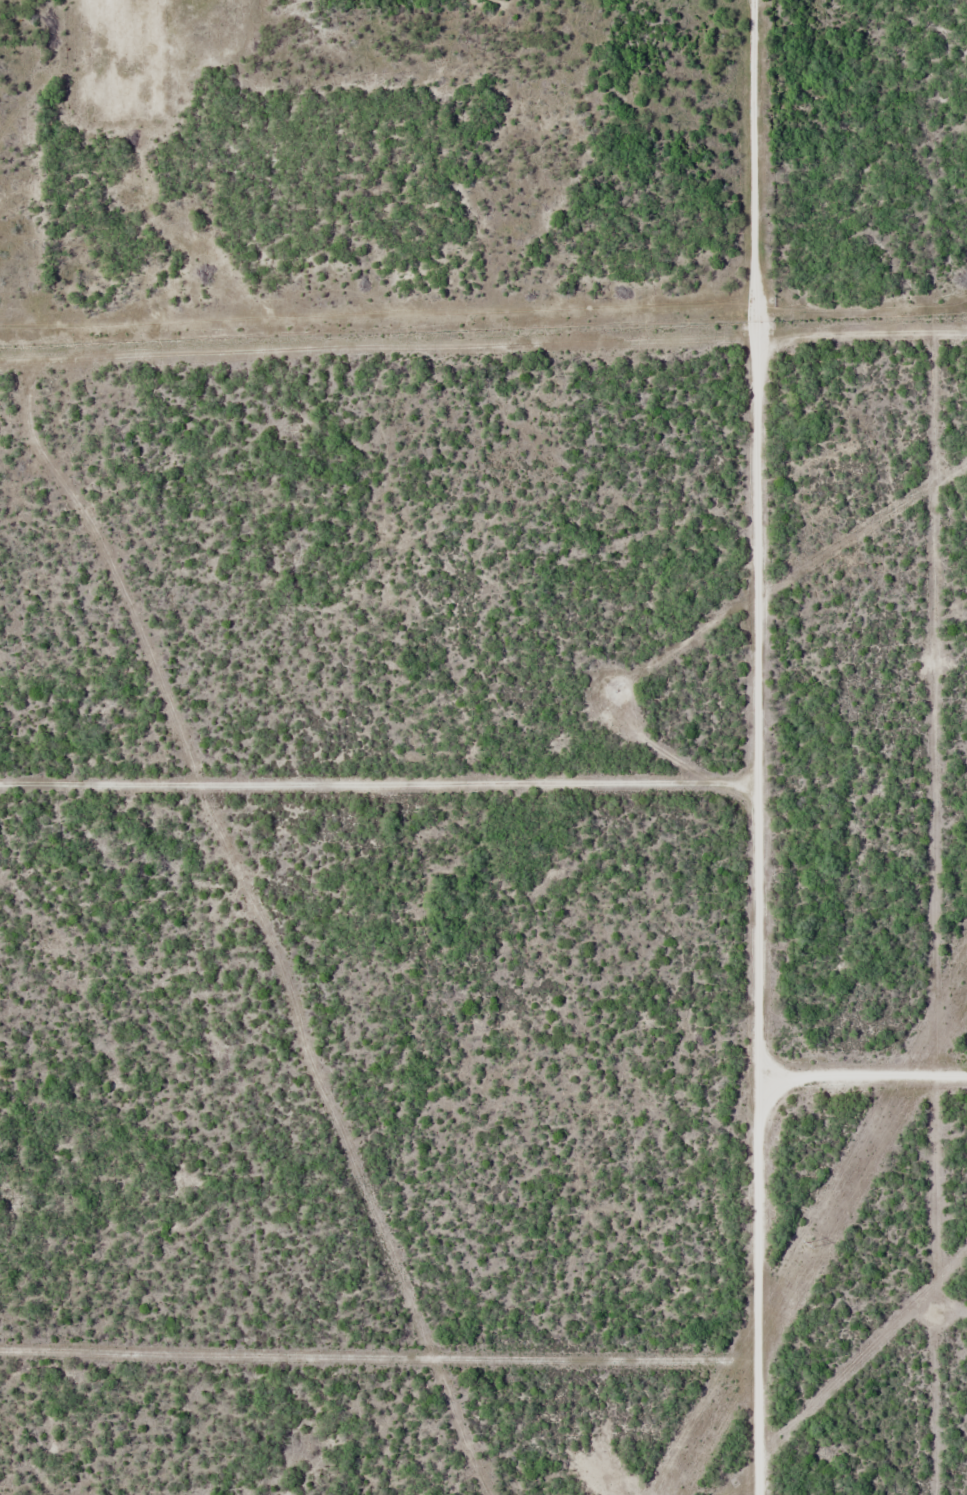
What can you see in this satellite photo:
road: (767, 747)
road: (384, 794)
road: (864, 1046)
power tower: (810, 1242)

